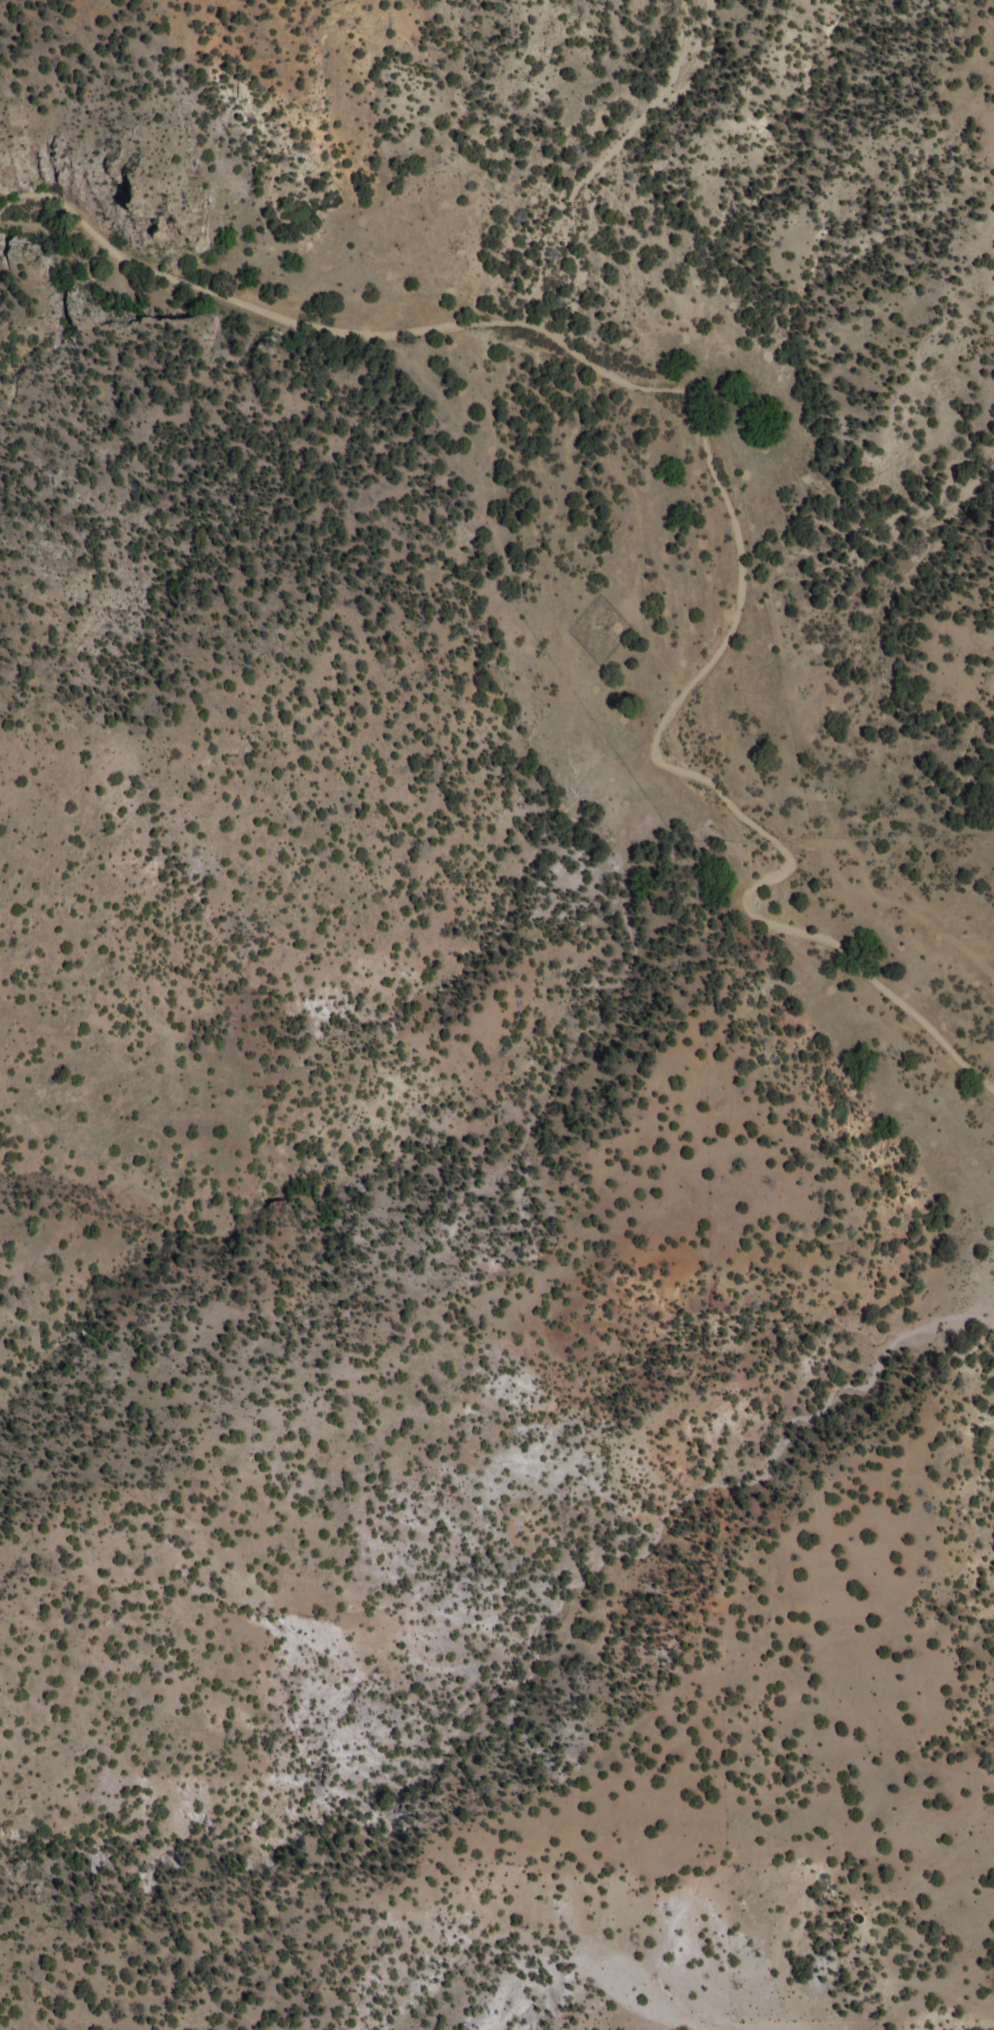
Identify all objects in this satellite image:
road: (989, 1186)

